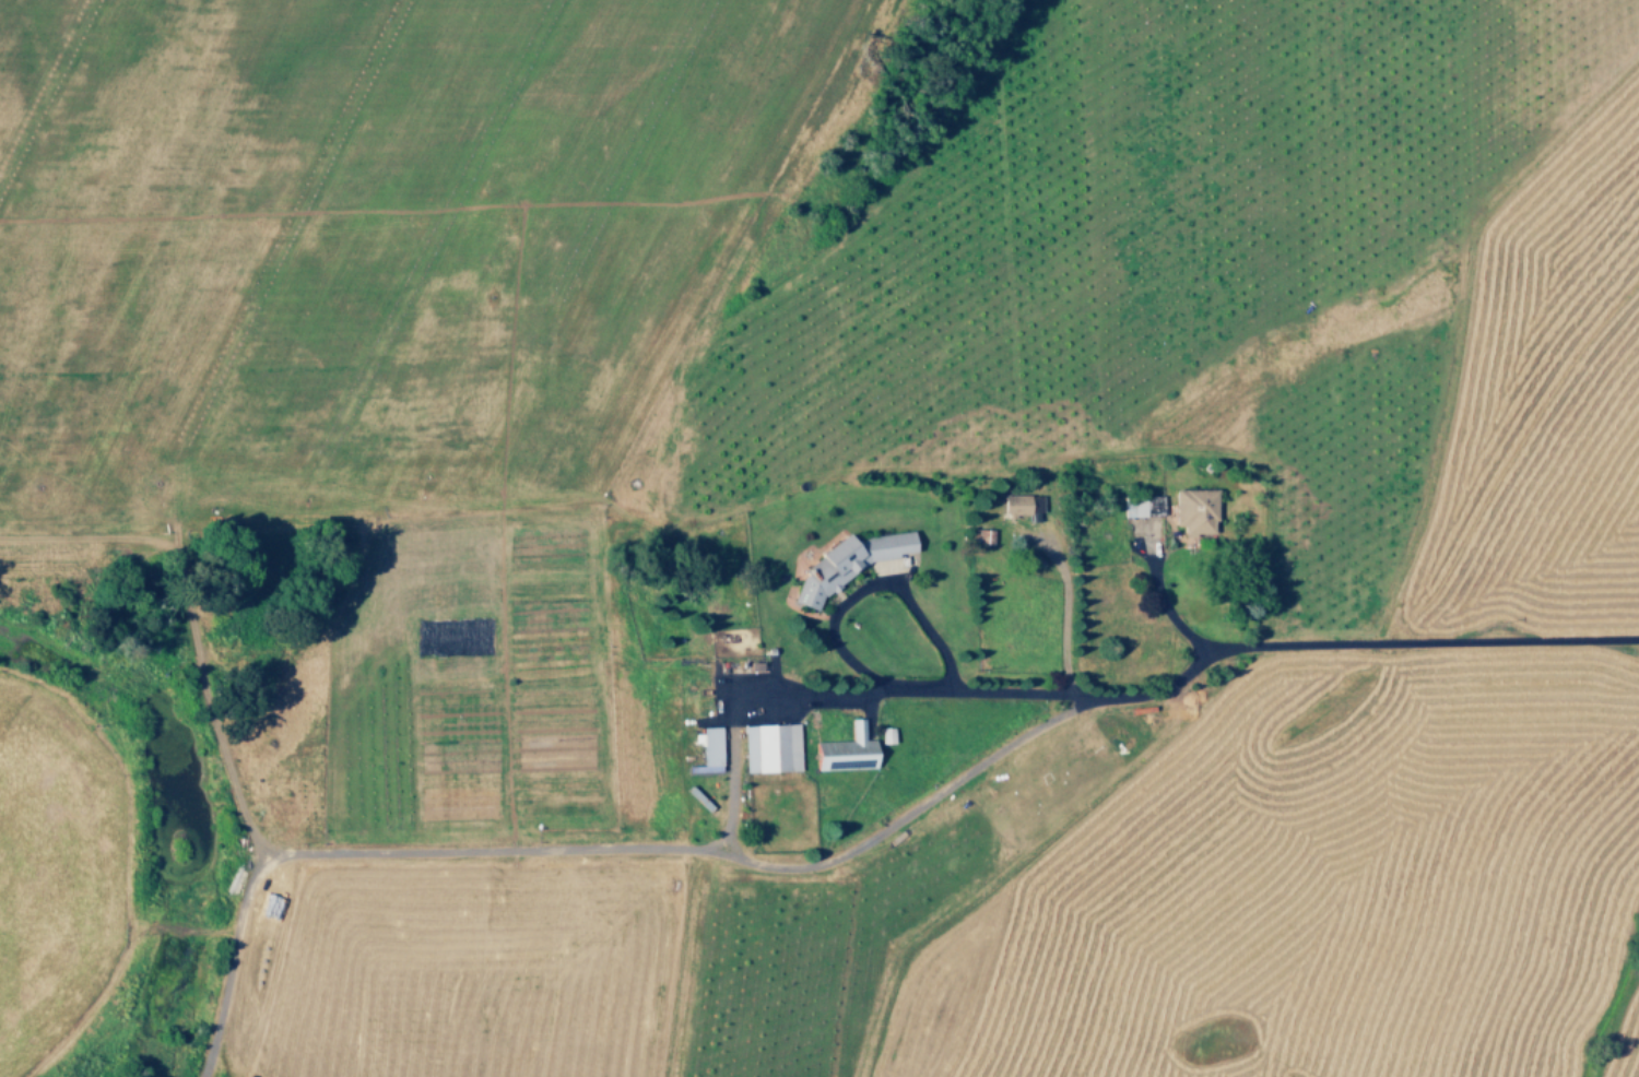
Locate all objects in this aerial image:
building: (1021, 504)
building: (1193, 514)
building: (842, 563)
road: (870, 583)
road: (1169, 612)
road: (1064, 613)
road: (1179, 676)
building: (885, 734)
building: (709, 746)
building: (770, 747)
building: (847, 750)
road: (730, 782)
road: (235, 791)
road: (594, 848)

